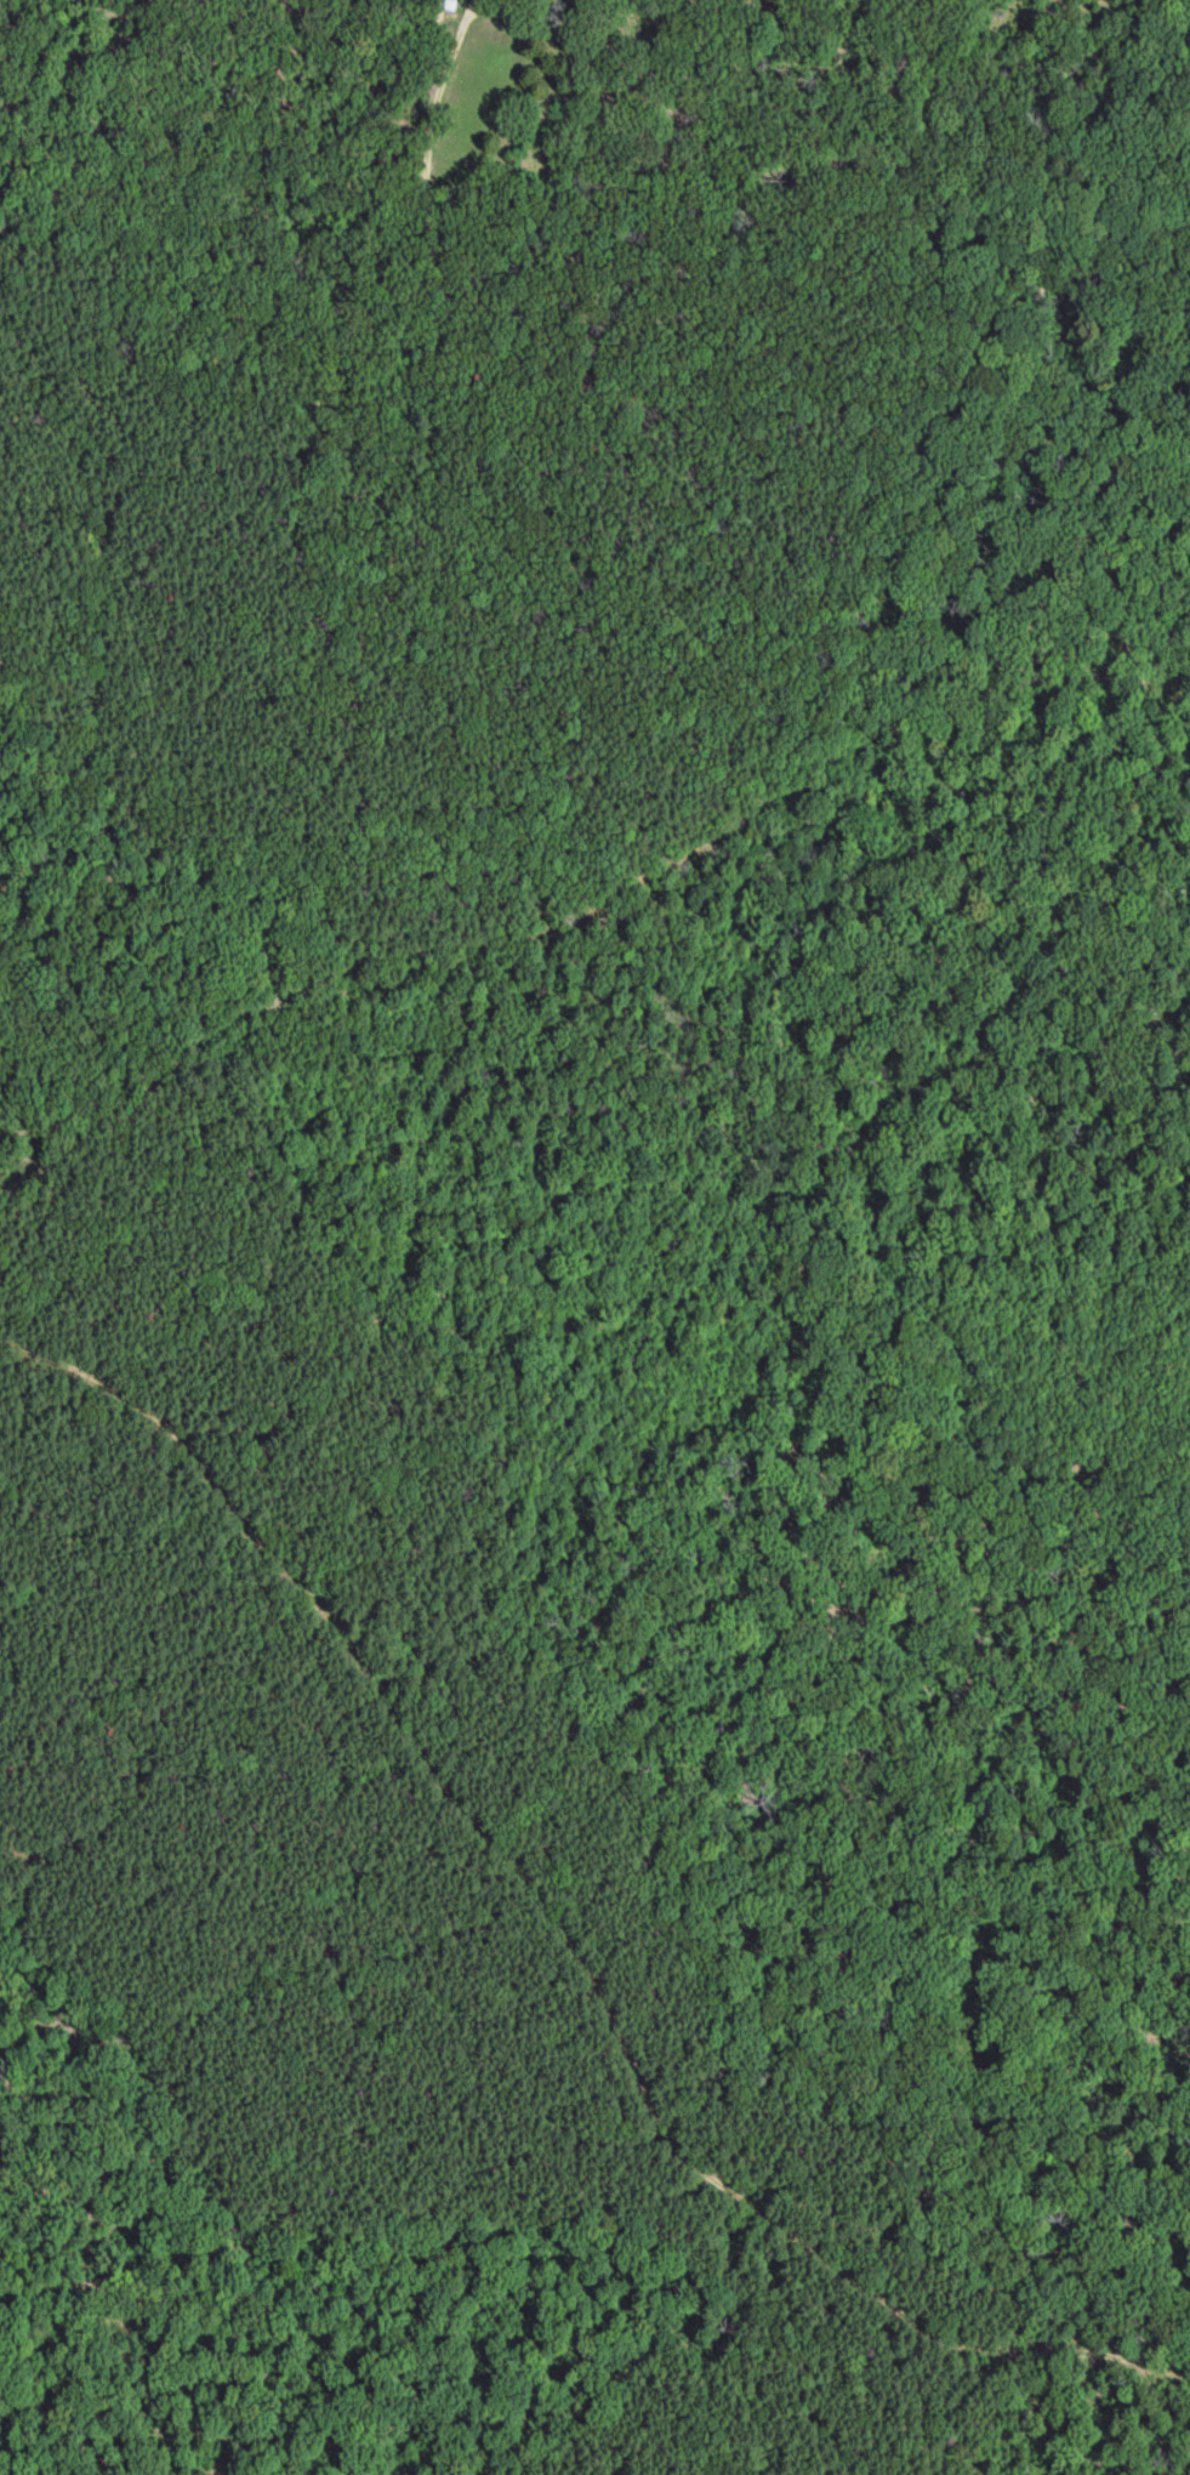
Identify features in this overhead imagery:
road: (565, 864)

